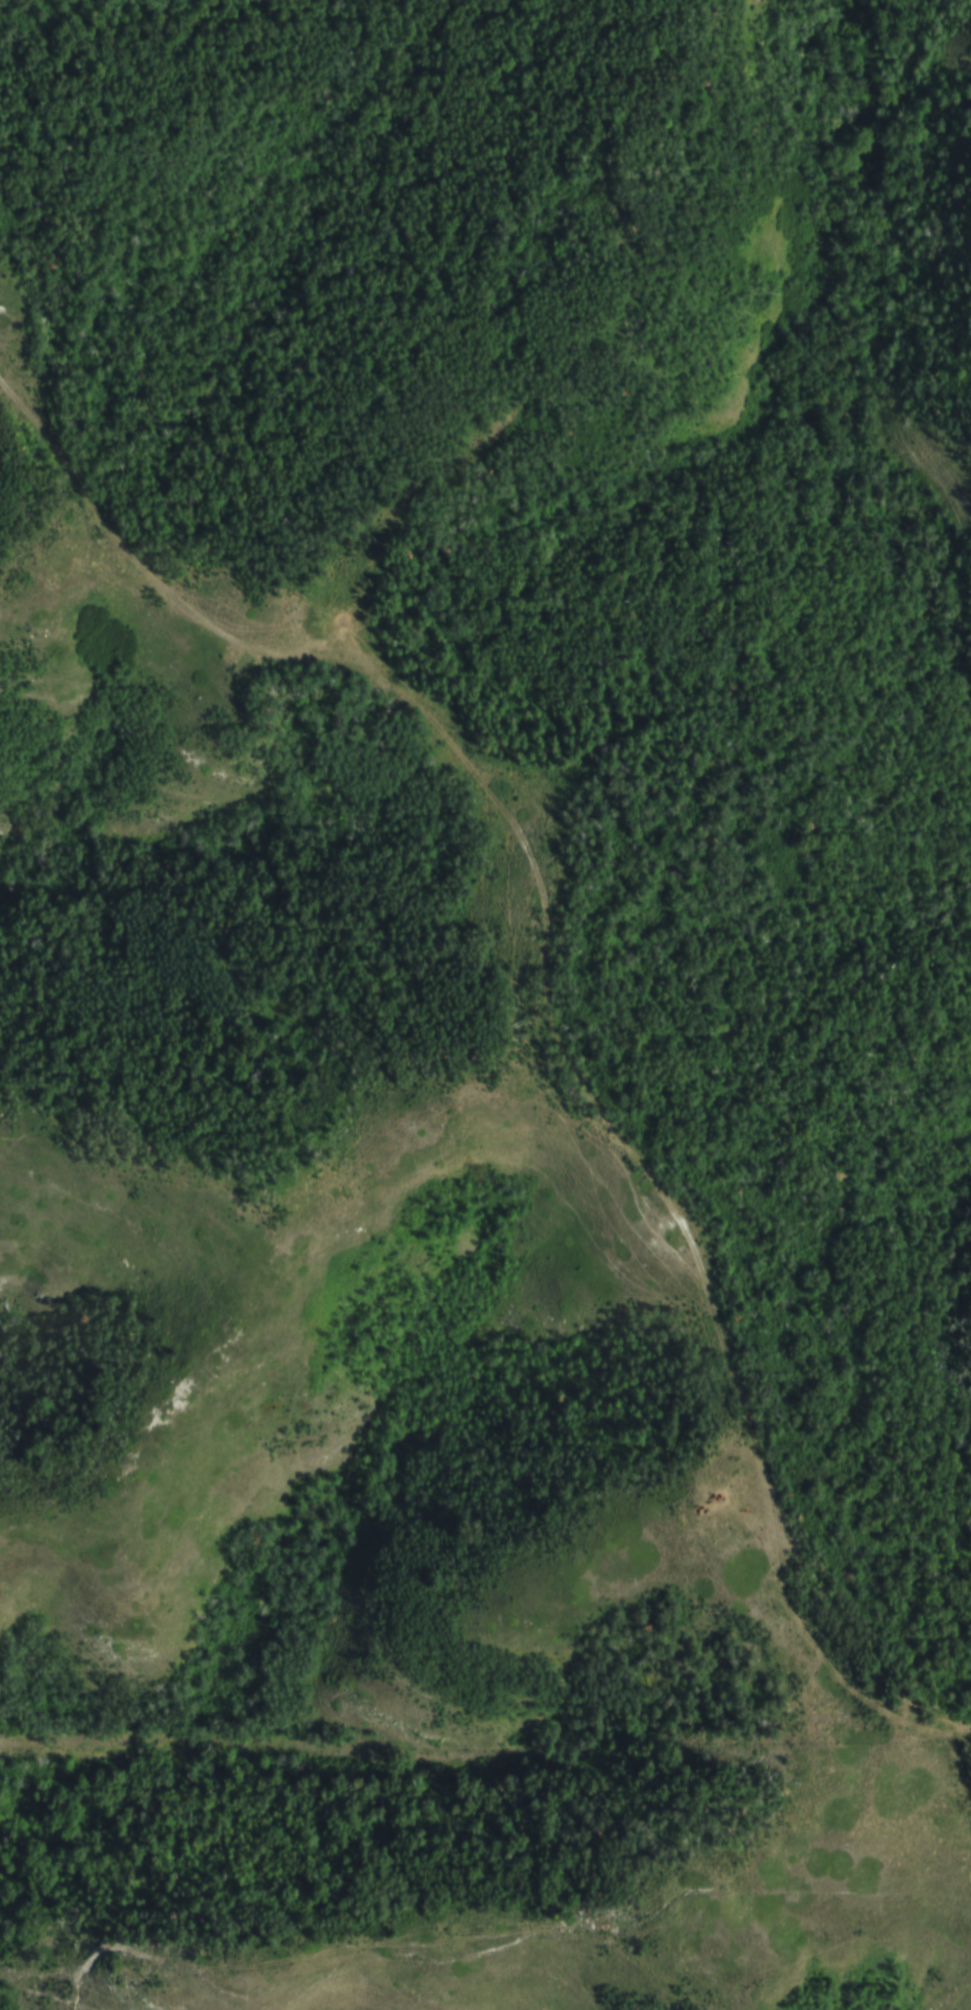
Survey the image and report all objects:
road: (492, 1756)

